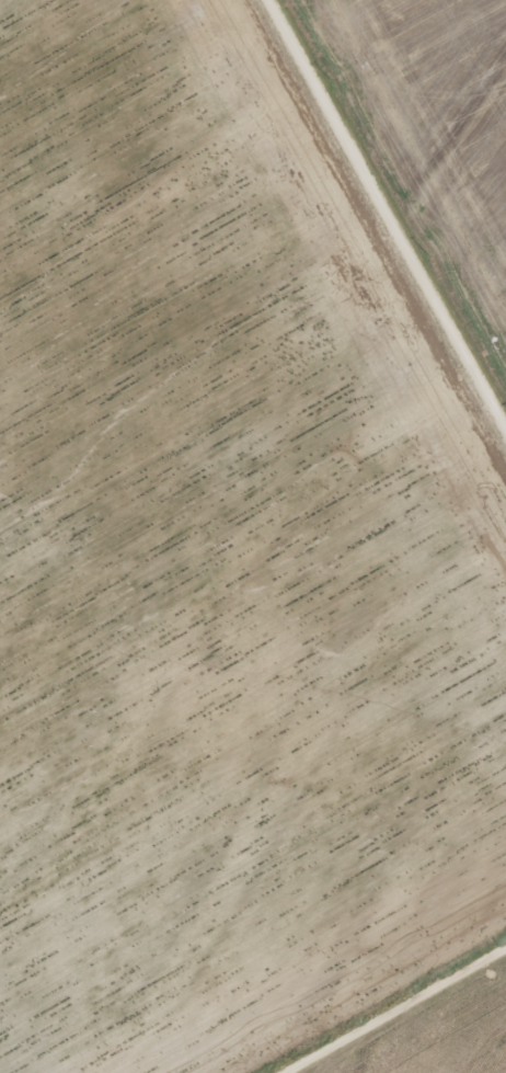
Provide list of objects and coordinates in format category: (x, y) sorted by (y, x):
road: (386, 217)
road: (395, 1012)

